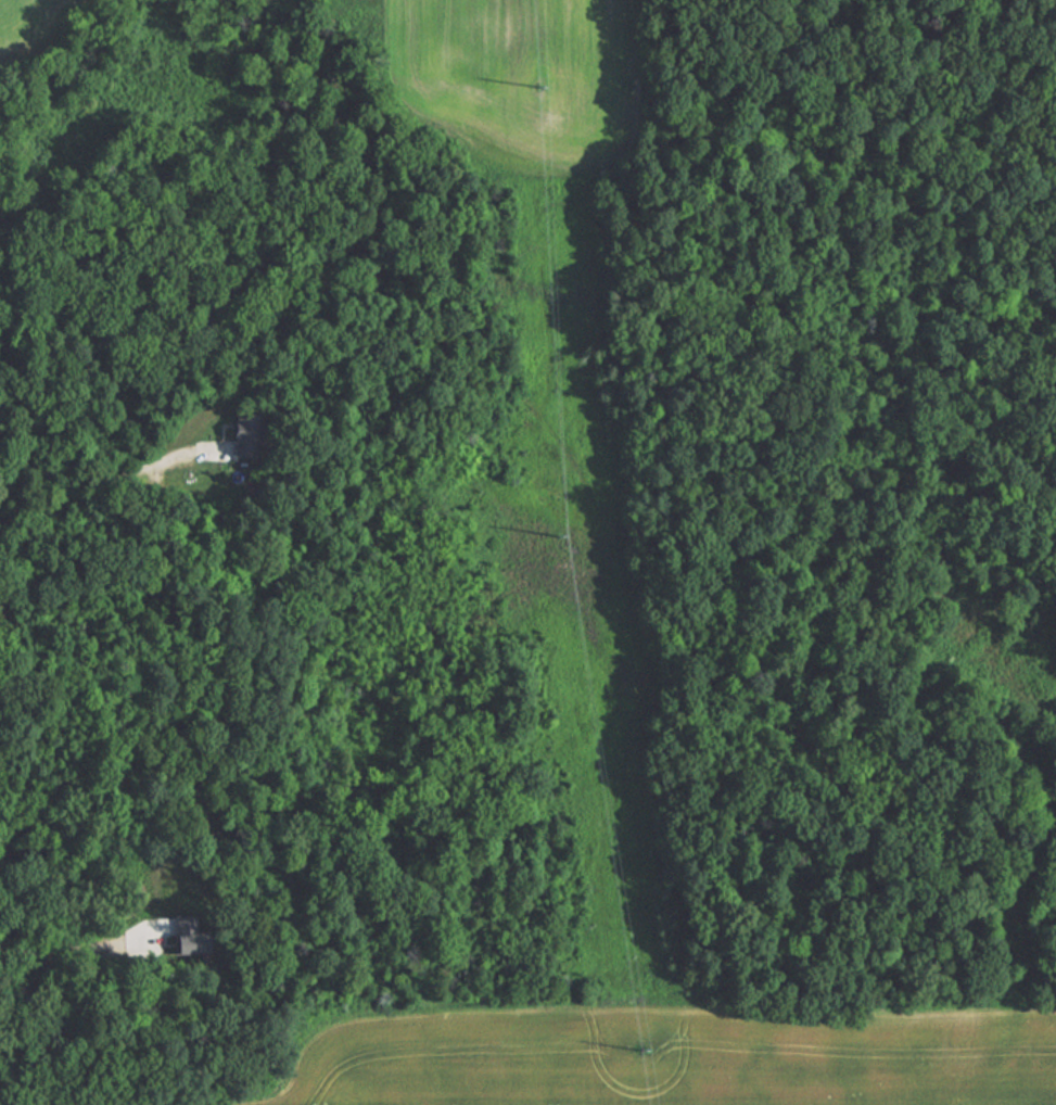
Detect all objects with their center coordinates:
power tower: (540, 102)
road: (103, 481)
power tower: (558, 535)
road: (73, 944)
power tower: (640, 1050)

